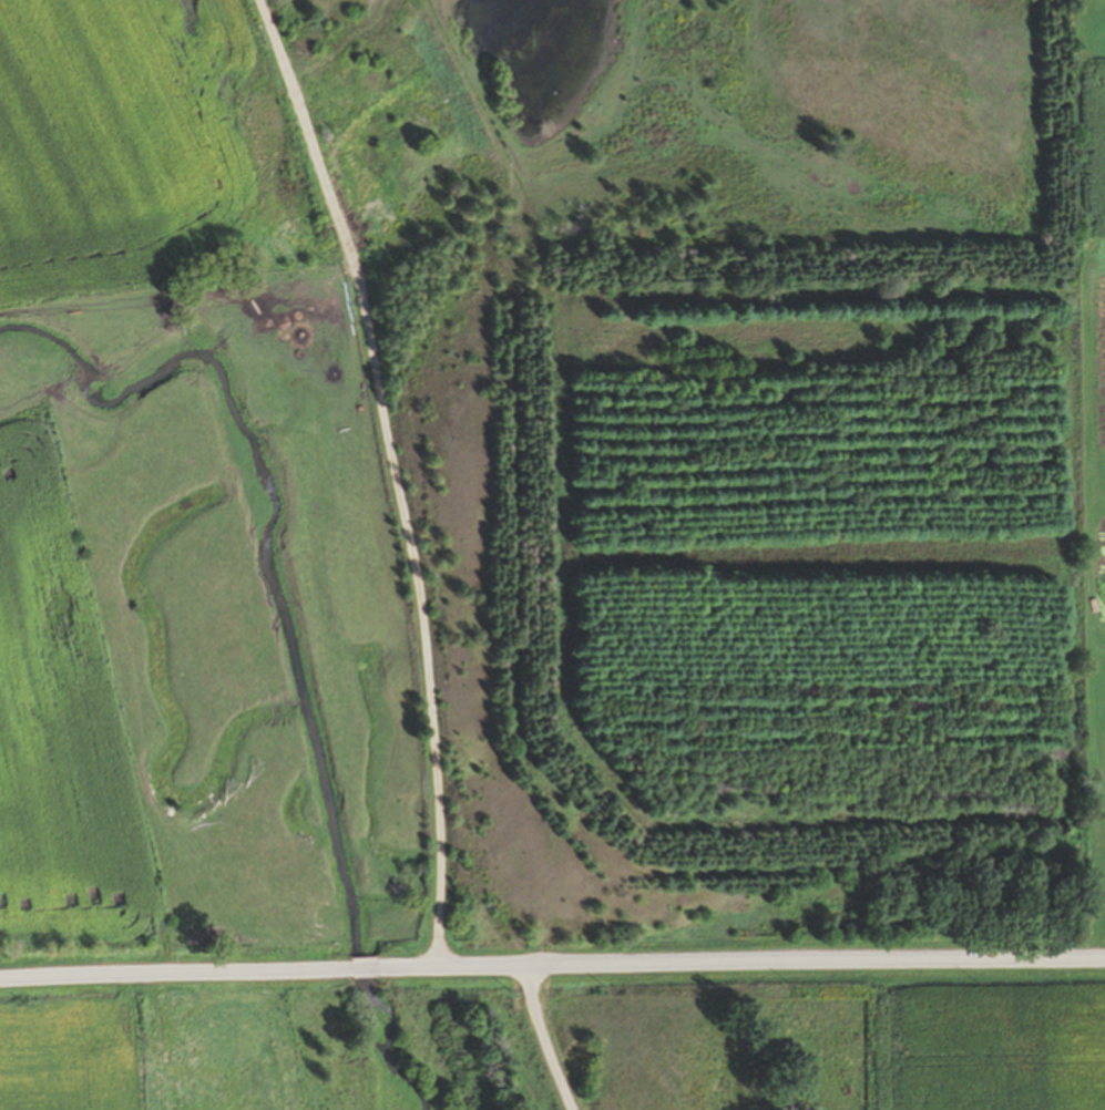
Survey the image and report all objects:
road: (393, 477)
road: (741, 964)
road: (365, 968)
road: (175, 973)
road: (544, 1039)

